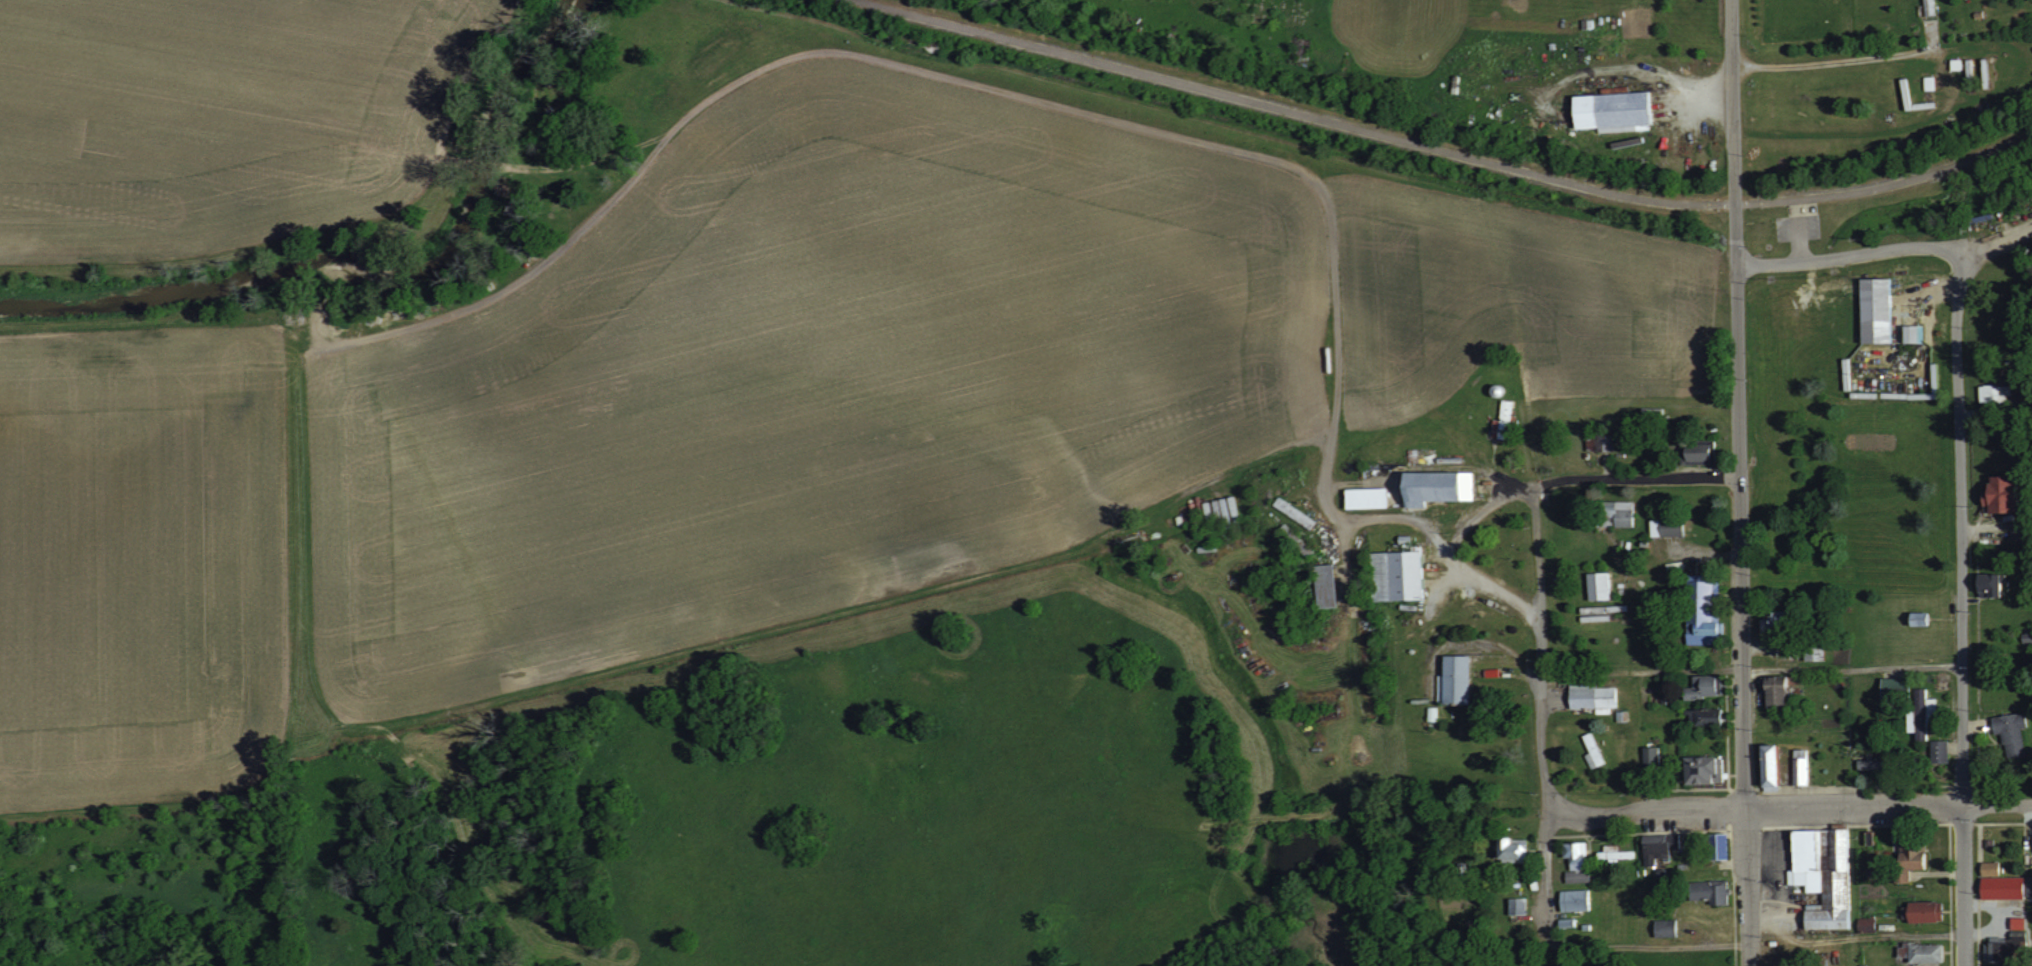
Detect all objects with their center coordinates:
building: (1928, 6)
road: (1731, 22)
road: (1828, 61)
building: (1611, 111)
road: (1444, 149)
road: (1795, 207)
parking lot: (1813, 228)
parking lot: (1797, 229)
parking lot: (1781, 230)
road: (1798, 239)
road: (1844, 255)
building: (1875, 309)
building: (1911, 333)
building: (1992, 392)
building: (1501, 420)
building: (1599, 442)
building: (1696, 452)
road: (1633, 481)
building: (1434, 486)
building: (1999, 493)
building: (1365, 497)
road: (1740, 505)
building: (1614, 513)
road: (1413, 519)
building: (1665, 527)
building: (1396, 575)
building: (1988, 583)
building: (1324, 585)
building: (1598, 585)
road: (1961, 605)
building: (1702, 613)
road: (1852, 665)
building: (1454, 679)
building: (1703, 686)
building: (1893, 686)
building: (1774, 690)
building: (1591, 696)
road: (1539, 707)
building: (1920, 713)
building: (1704, 716)
building: (2010, 732)
building: (1937, 750)
building: (1650, 756)
building: (1868, 763)
building: (1768, 765)
building: (1799, 766)
building: (1702, 769)
road: (1996, 807)
road: (1753, 809)
building: (1657, 846)
building: (1716, 846)
building: (1510, 850)
building: (1614, 853)
building: (1907, 859)
building: (1575, 860)
building: (1822, 874)
building: (2002, 883)
building: (1708, 891)
building: (1574, 900)
building: (1517, 905)
building: (1923, 911)
building: (2016, 922)
building: (1865, 924)
building: (1664, 927)
road: (1640, 943)
building: (1996, 949)
building: (1919, 952)

